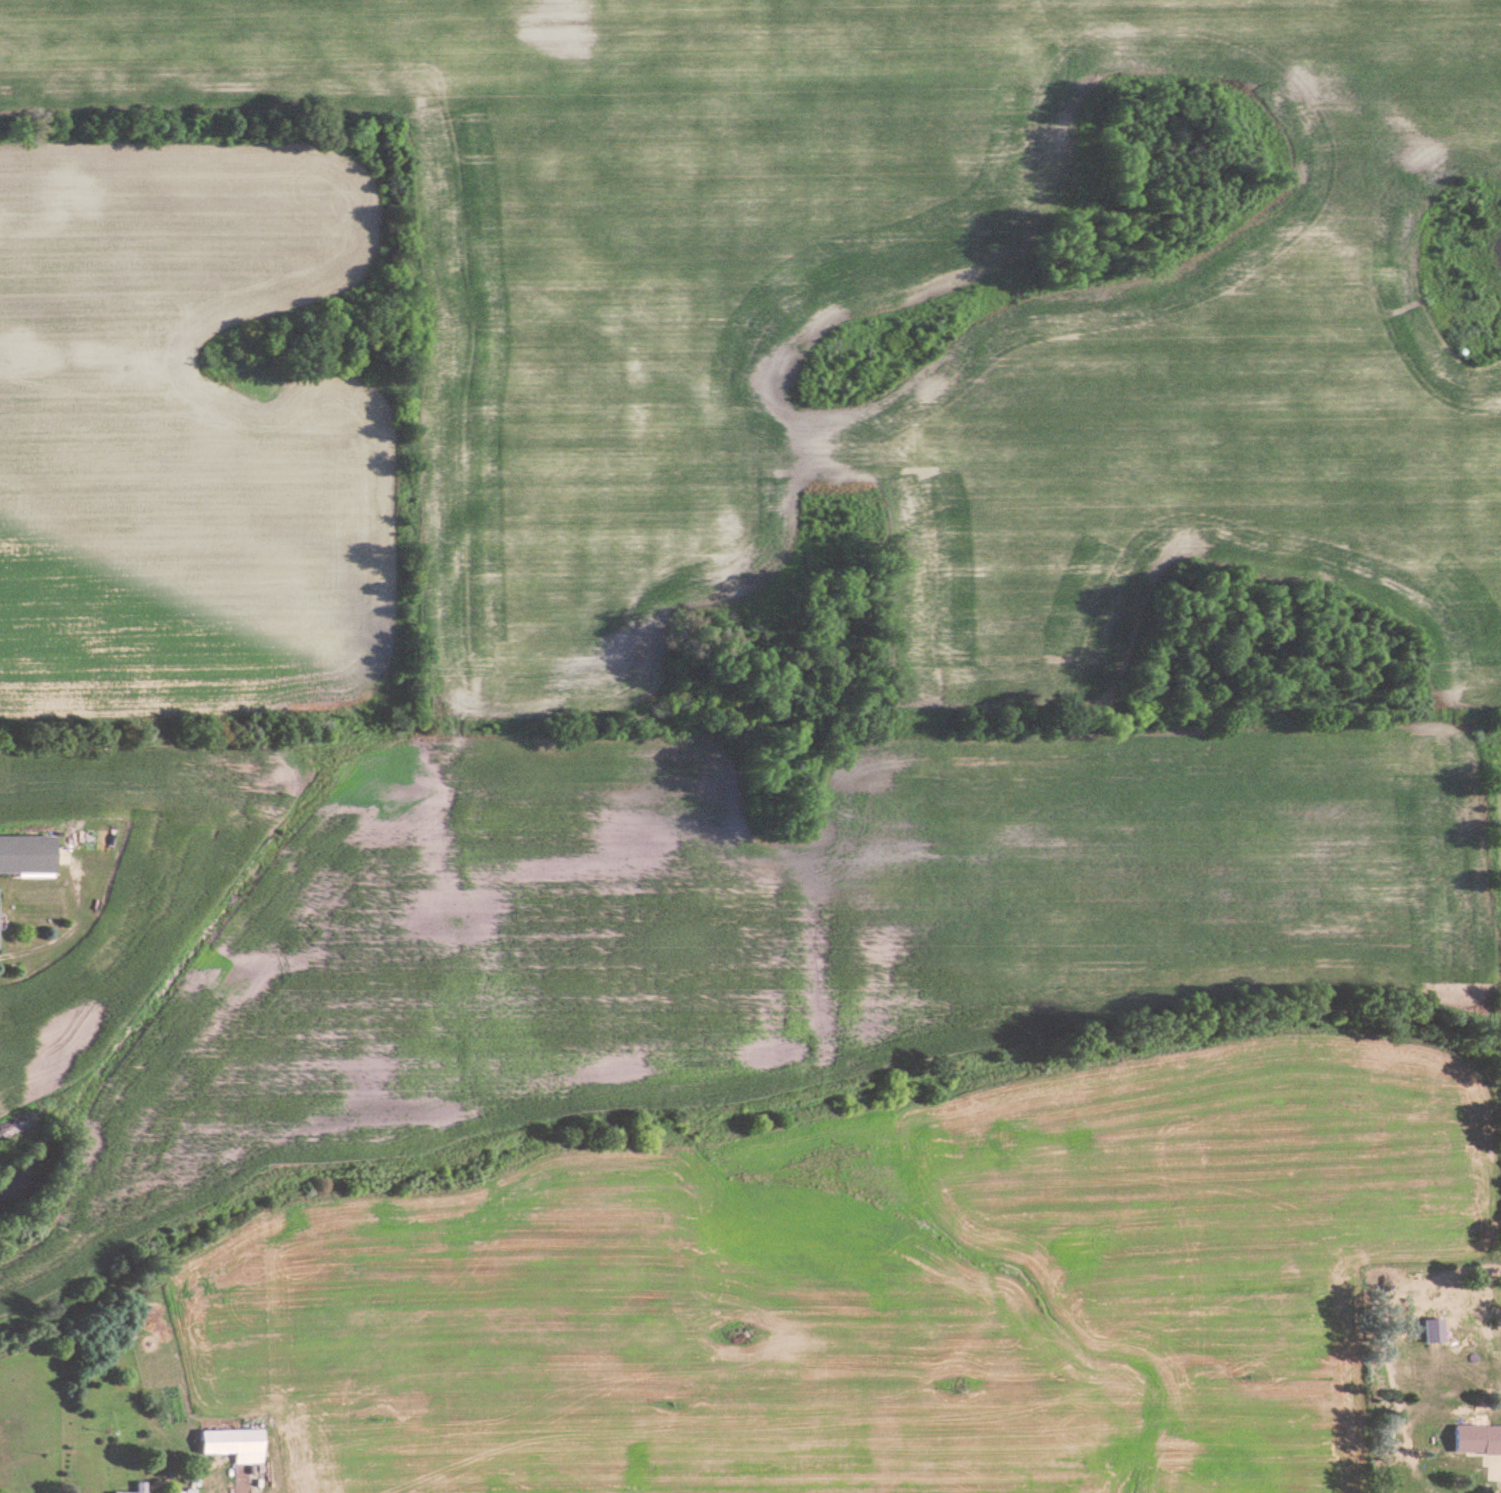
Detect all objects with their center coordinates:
building: (27, 855)
building: (1433, 1330)
building: (1477, 1440)
building: (233, 1444)
building: (136, 1488)

